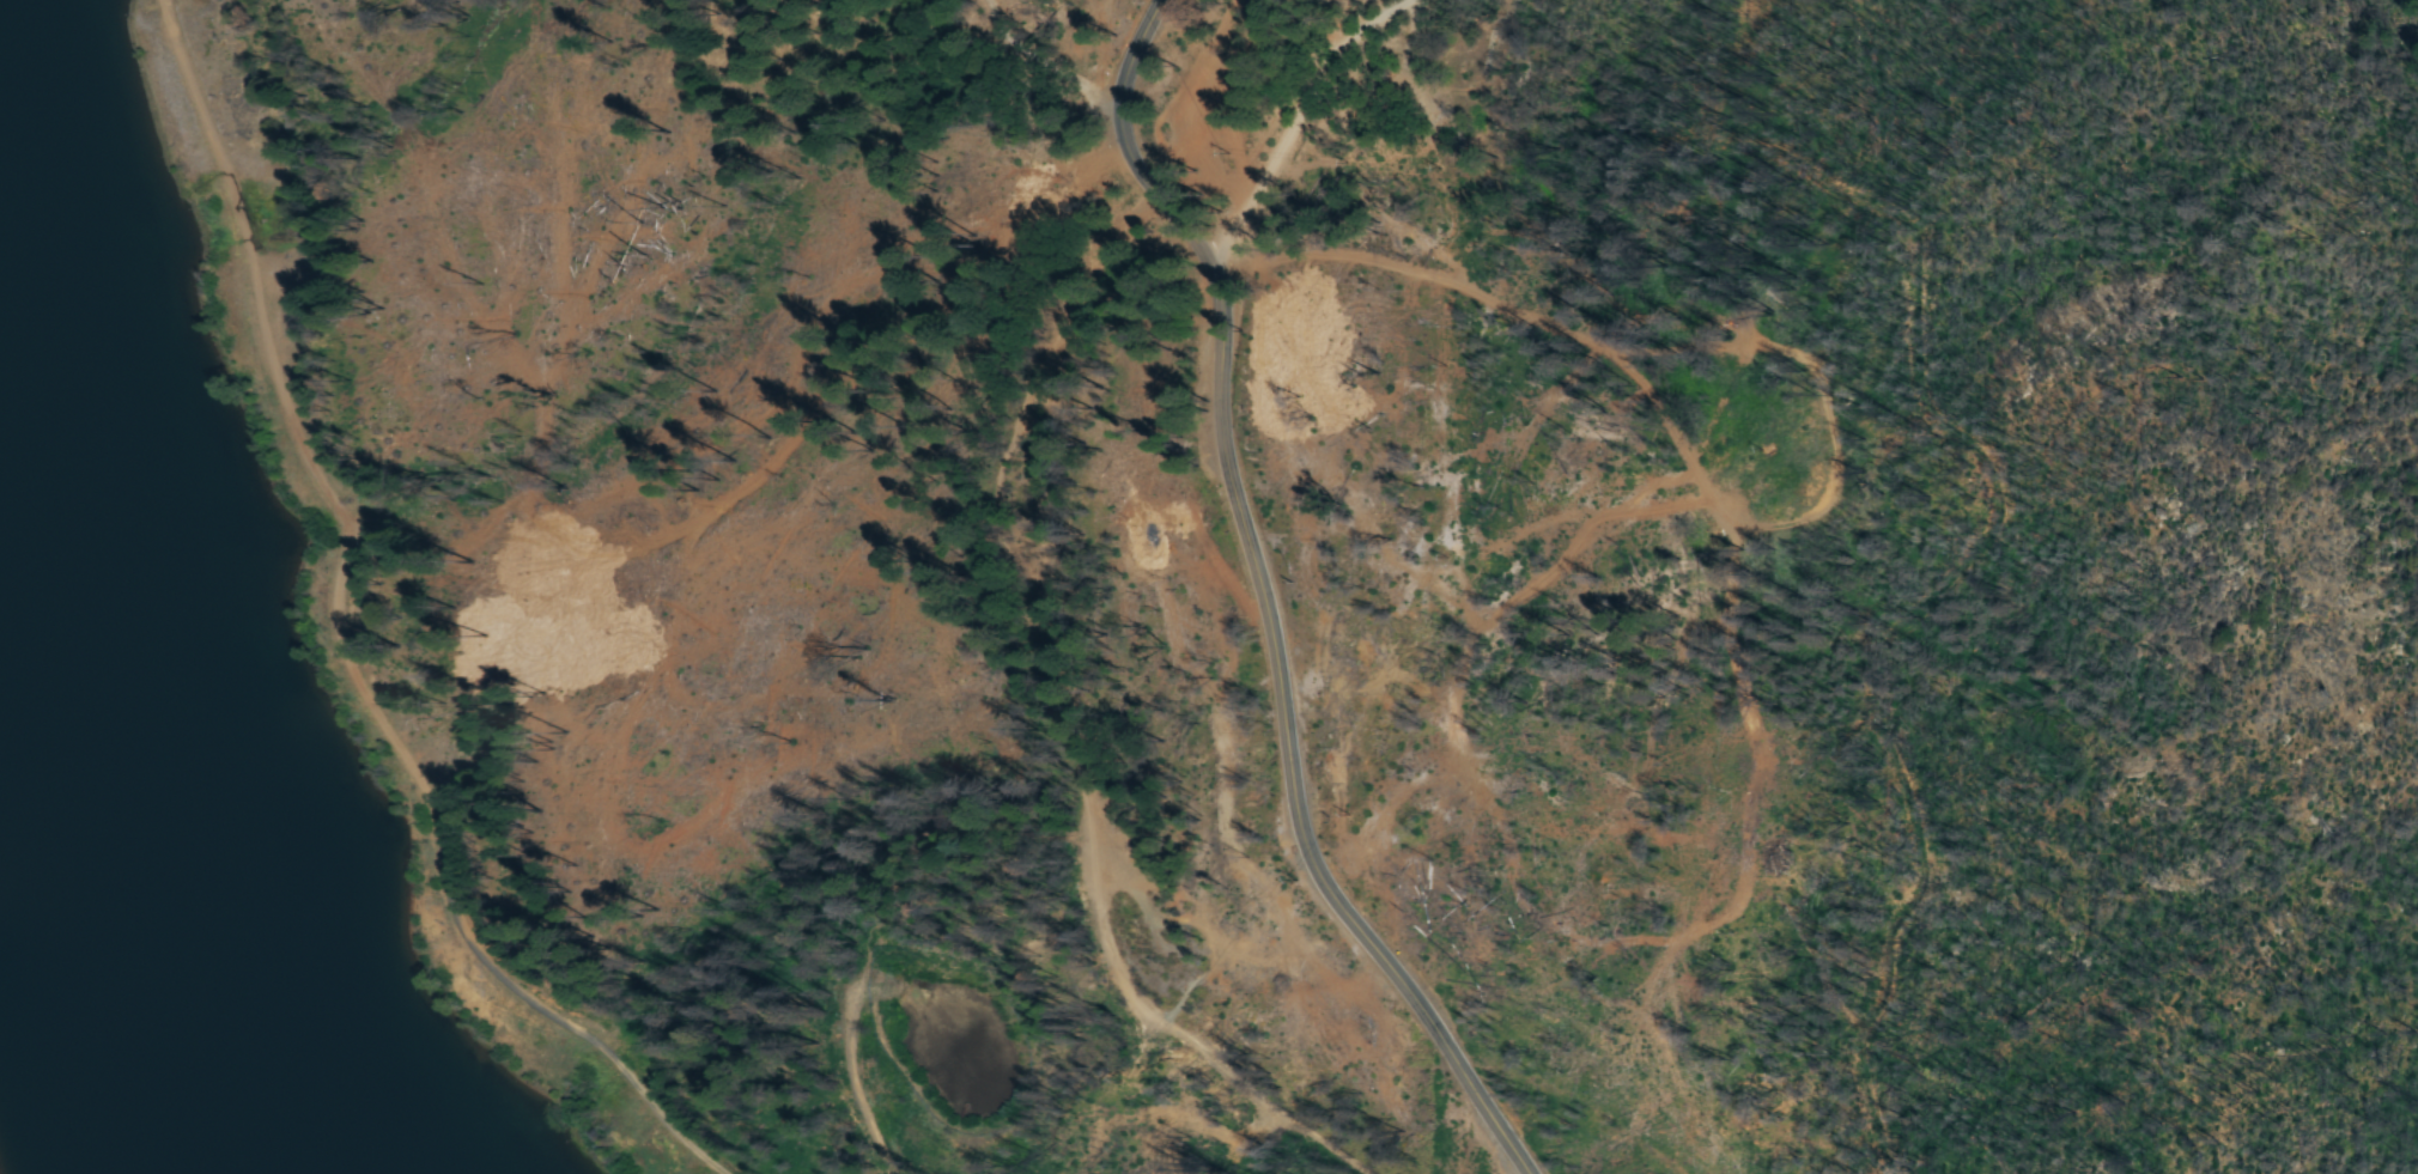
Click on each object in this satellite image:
road: (1283, 109)
road: (1403, 257)
road: (1714, 487)
road: (1269, 598)
road: (1059, 631)

